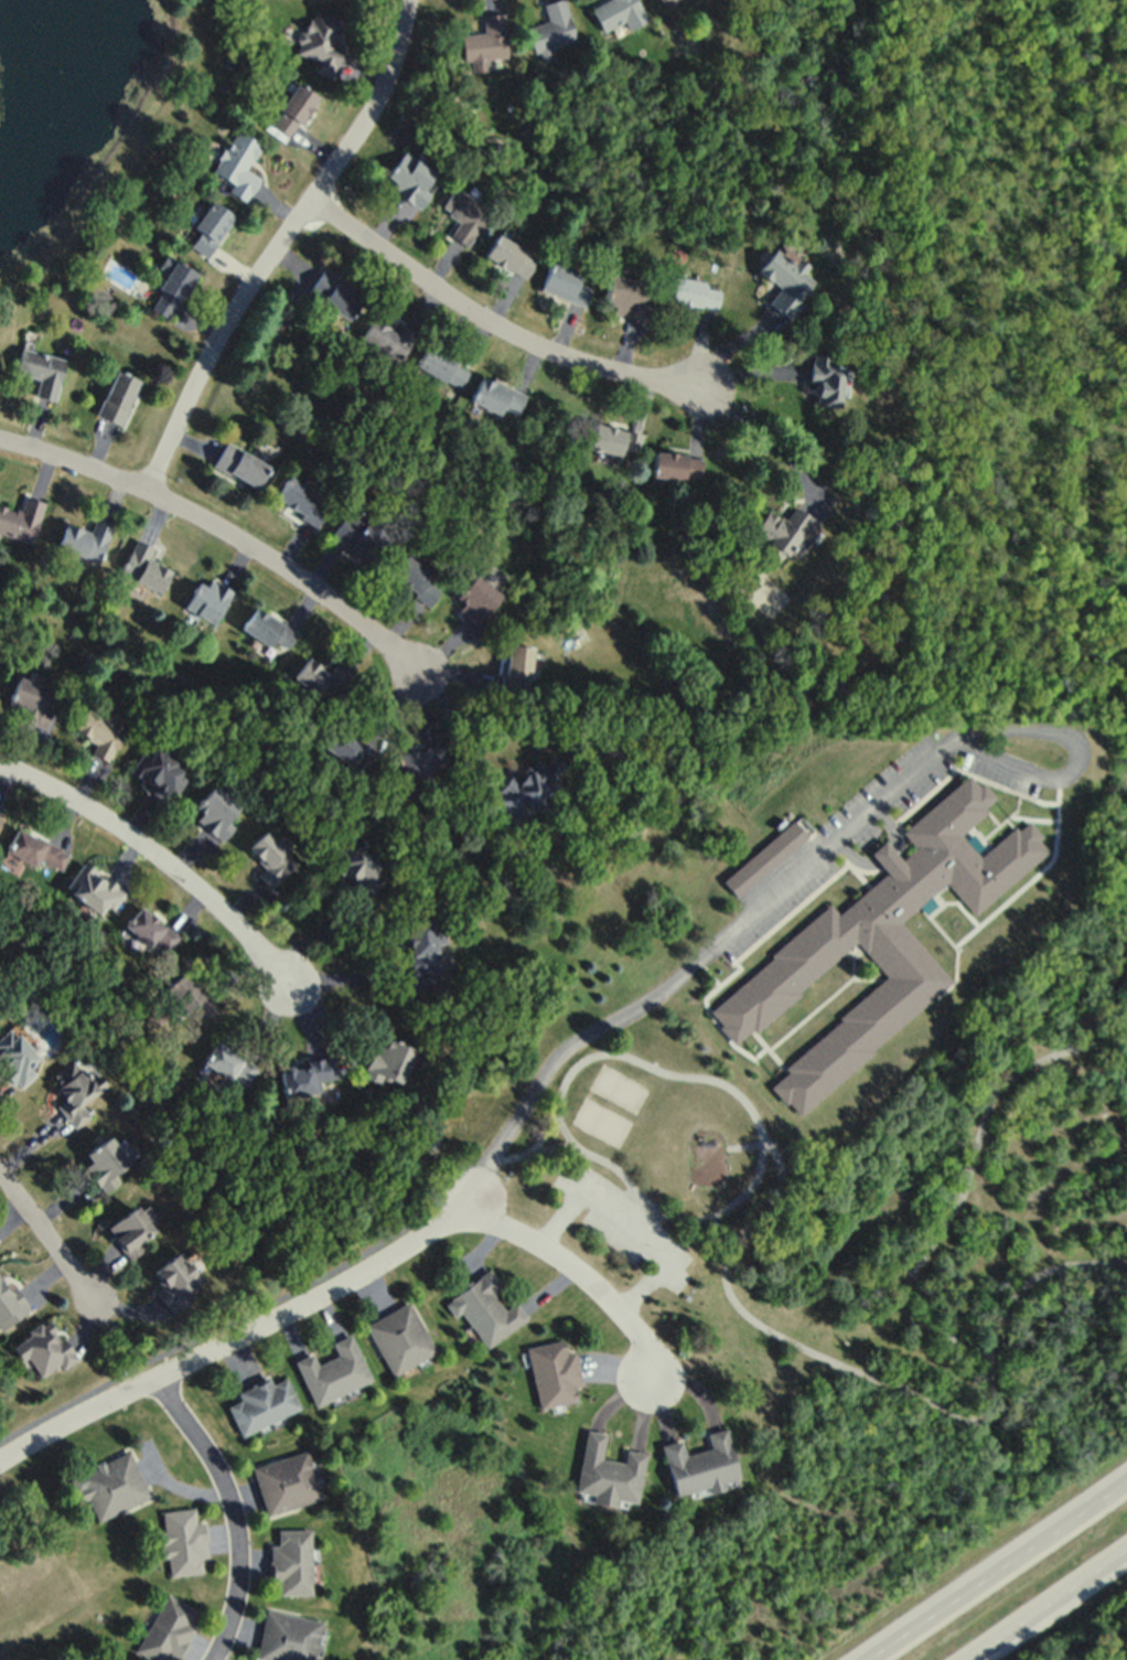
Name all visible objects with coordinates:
building: (666, 2)
building: (618, 12)
building: (550, 30)
building: (320, 41)
building: (484, 42)
building: (292, 109)
building: (237, 163)
building: (409, 179)
building: (463, 214)
building: (210, 226)
building: (509, 255)
building: (786, 279)
building: (566, 283)
building: (170, 288)
building: (693, 292)
building: (334, 293)
building: (629, 297)
road: (239, 314)
road: (487, 320)
building: (387, 338)
building: (442, 365)
building: (41, 370)
building: (826, 379)
building: (117, 396)
building: (495, 396)
road: (758, 431)
building: (614, 439)
building: (240, 464)
building: (676, 464)
building: (300, 500)
building: (21, 518)
building: (786, 528)
building: (358, 537)
building: (85, 539)
building: (143, 566)
road: (292, 574)
building: (415, 578)
building: (207, 599)
building: (477, 601)
building: (267, 628)
building: (518, 664)
building: (320, 677)
building: (841, 684)
building: (29, 699)
building: (98, 732)
building: (350, 750)
building: (418, 760)
building: (158, 771)
building: (528, 784)
building: (216, 812)
building: (0, 815)
building: (33, 853)
road: (160, 853)
building: (763, 856)
building: (270, 858)
building: (358, 867)
building: (94, 889)
building: (150, 930)
building: (877, 941)
building: (421, 945)
road: (689, 963)
building: (187, 995)
building: (15, 1056)
building: (228, 1062)
building: (388, 1062)
building: (304, 1077)
building: (75, 1091)
building: (105, 1163)
road: (625, 1212)
building: (130, 1229)
road: (49, 1235)
road: (589, 1270)
building: (175, 1279)
building: (8, 1303)
building: (485, 1307)
road: (244, 1311)
road: (118, 1331)
building: (399, 1336)
road: (243, 1341)
building: (43, 1347)
building: (333, 1370)
building: (554, 1371)
building: (261, 1403)
building: (701, 1463)
building: (608, 1472)
building: (286, 1480)
building: (109, 1484)
road: (237, 1512)
building: (182, 1540)
building: (291, 1560)
road: (1000, 1571)
road: (1046, 1606)
building: (167, 1629)
building: (287, 1637)
building: (119, 1659)

